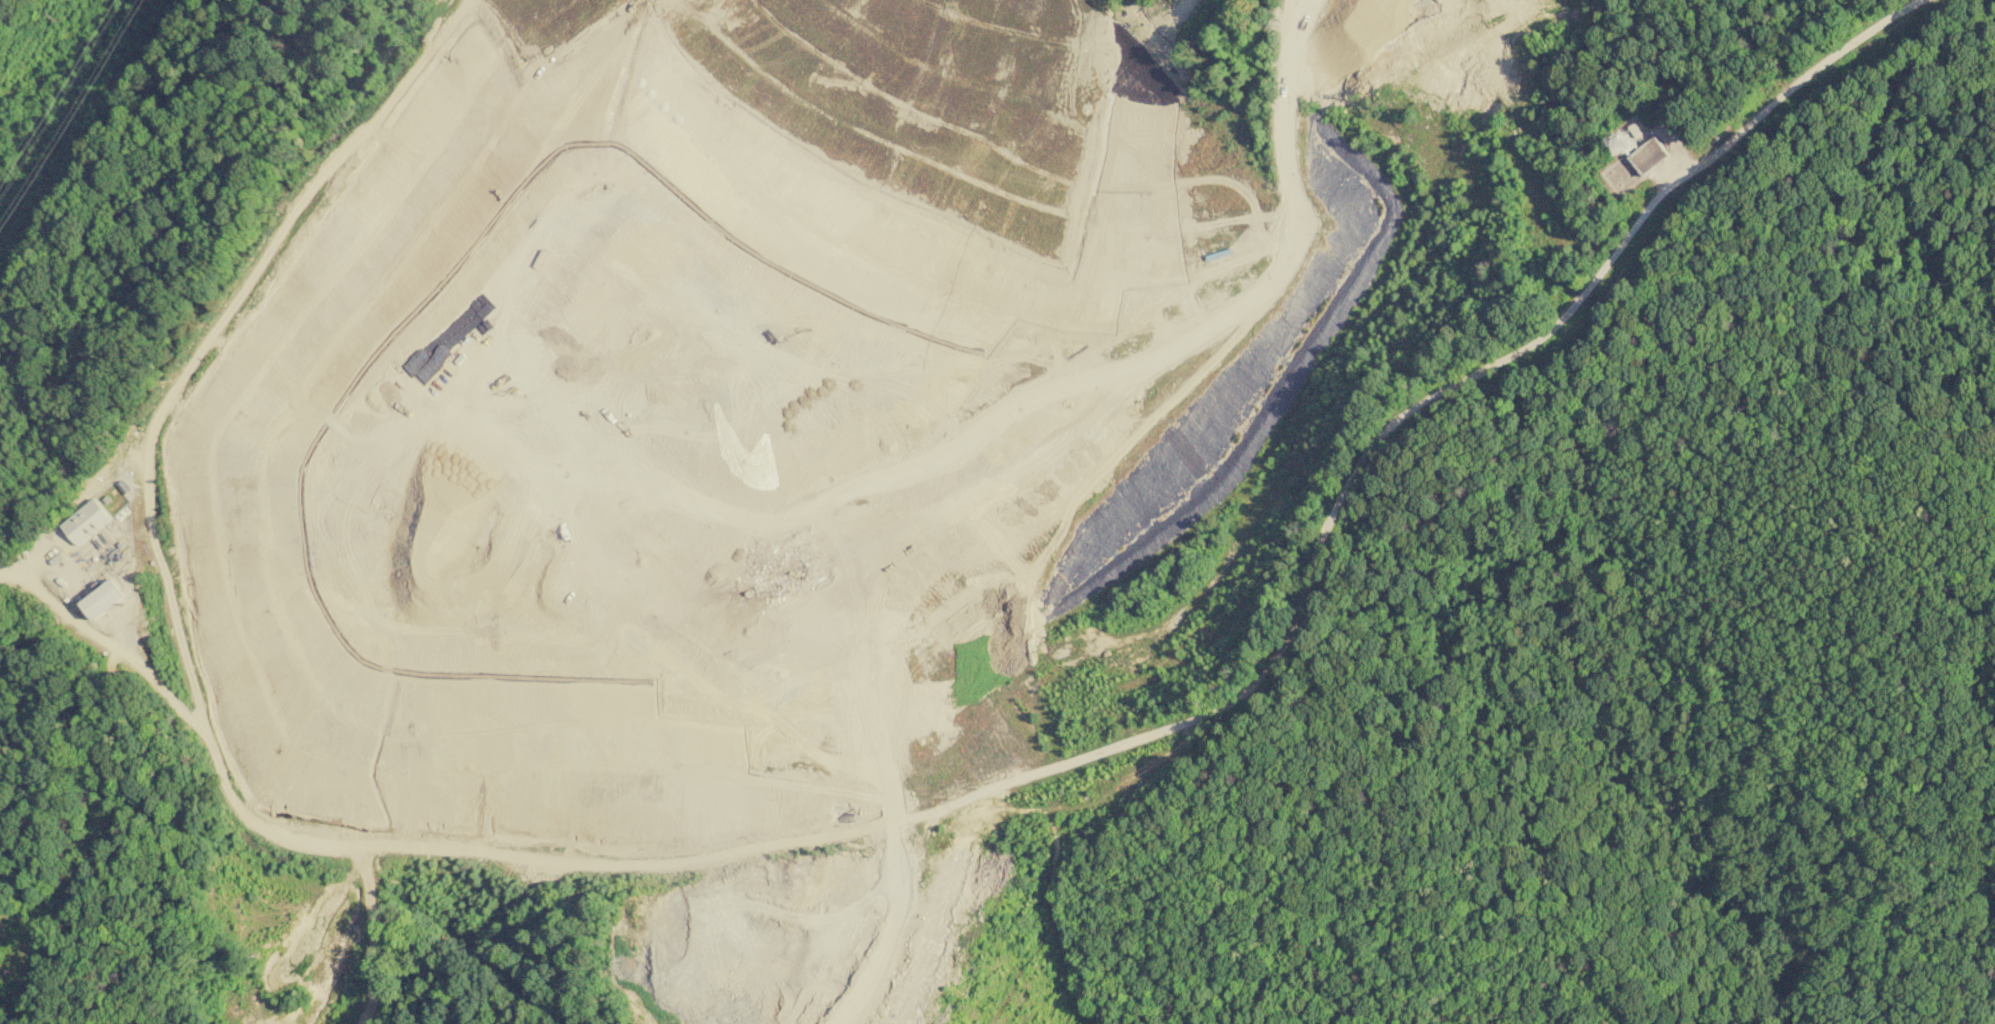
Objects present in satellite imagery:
road: (886, 48)
road: (967, 93)
building: (1648, 154)
road: (238, 294)
road: (1125, 438)
landfill: (827, 461)
building: (86, 520)
building: (77, 568)
building: (103, 598)
road: (1063, 769)
road: (103, 828)

